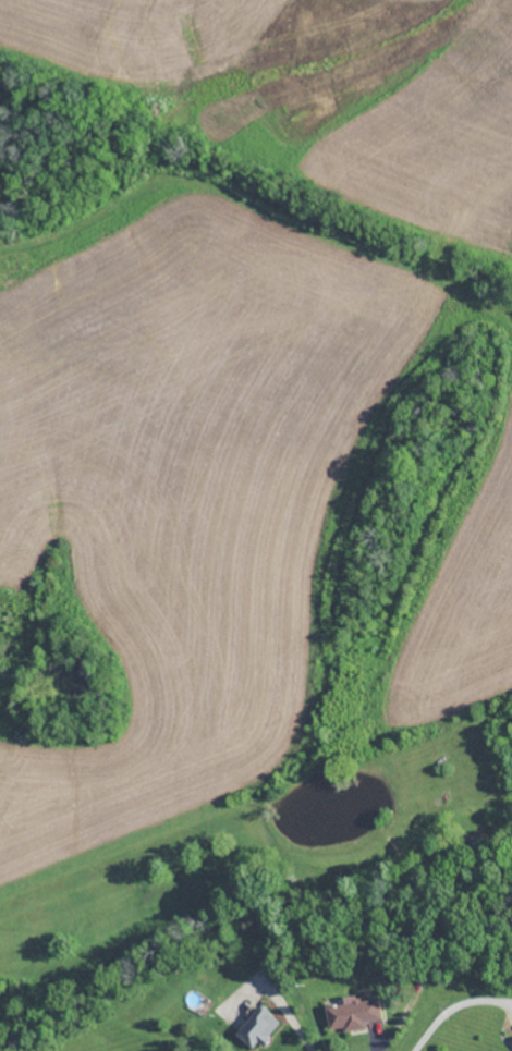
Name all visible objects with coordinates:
road: (455, 1010)
building: (355, 1012)
road: (291, 1018)
building: (261, 1026)

